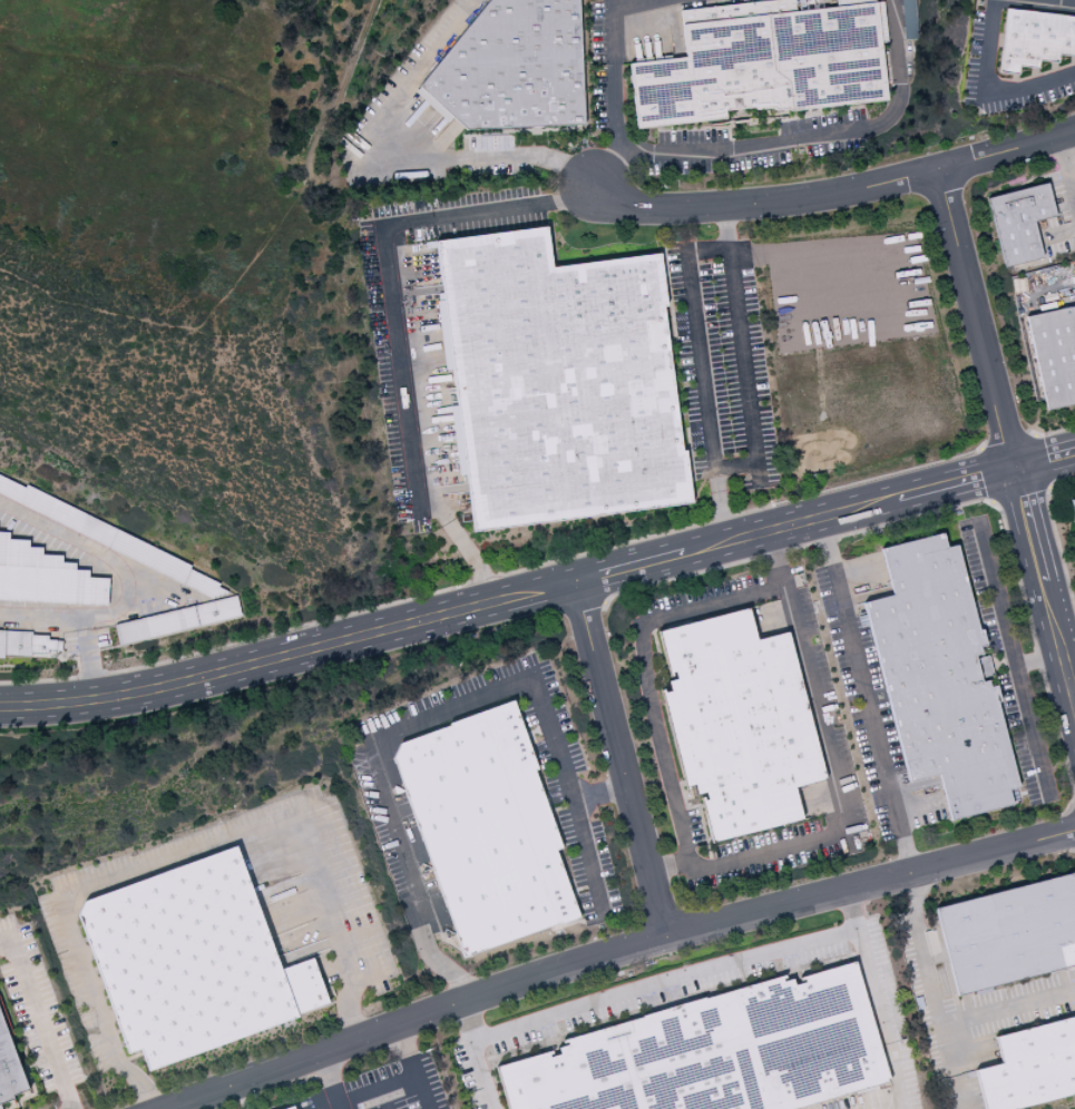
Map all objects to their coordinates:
road: (1057, 1)
road: (1061, 1)
building: (910, 19)
building: (1034, 40)
building: (762, 63)
building: (512, 69)
road: (614, 72)
road: (979, 98)
road: (812, 134)
road: (403, 151)
road: (606, 173)
road: (1064, 180)
road: (838, 195)
building: (1019, 222)
road: (726, 228)
road: (1063, 235)
road: (682, 258)
road: (887, 306)
road: (979, 320)
road: (393, 324)
building: (1055, 355)
building: (557, 383)
road: (1046, 460)
road: (957, 483)
building: (1073, 508)
road: (1029, 524)
road: (790, 527)
building: (109, 538)
road: (631, 569)
building: (45, 577)
road: (1001, 619)
building: (177, 621)
road: (1057, 641)
building: (27, 645)
road: (289, 654)
road: (1068, 659)
building: (939, 679)
road: (862, 695)
building: (737, 724)
road: (404, 727)
road: (1030, 730)
road: (625, 760)
road: (917, 809)
building: (486, 828)
road: (190, 848)
road: (586, 856)
road: (714, 865)
building: (1009, 934)
road: (626, 954)
building: (192, 962)
road: (667, 989)
road: (874, 998)
road: (39, 1018)
road: (938, 1019)
road: (409, 1049)
building: (715, 1053)
road: (480, 1058)
building: (1030, 1068)
road: (951, 1069)
building: (9, 1071)
road: (326, 1080)
road: (372, 1087)
road: (422, 1090)
road: (380, 1097)
building: (291, 1108)

